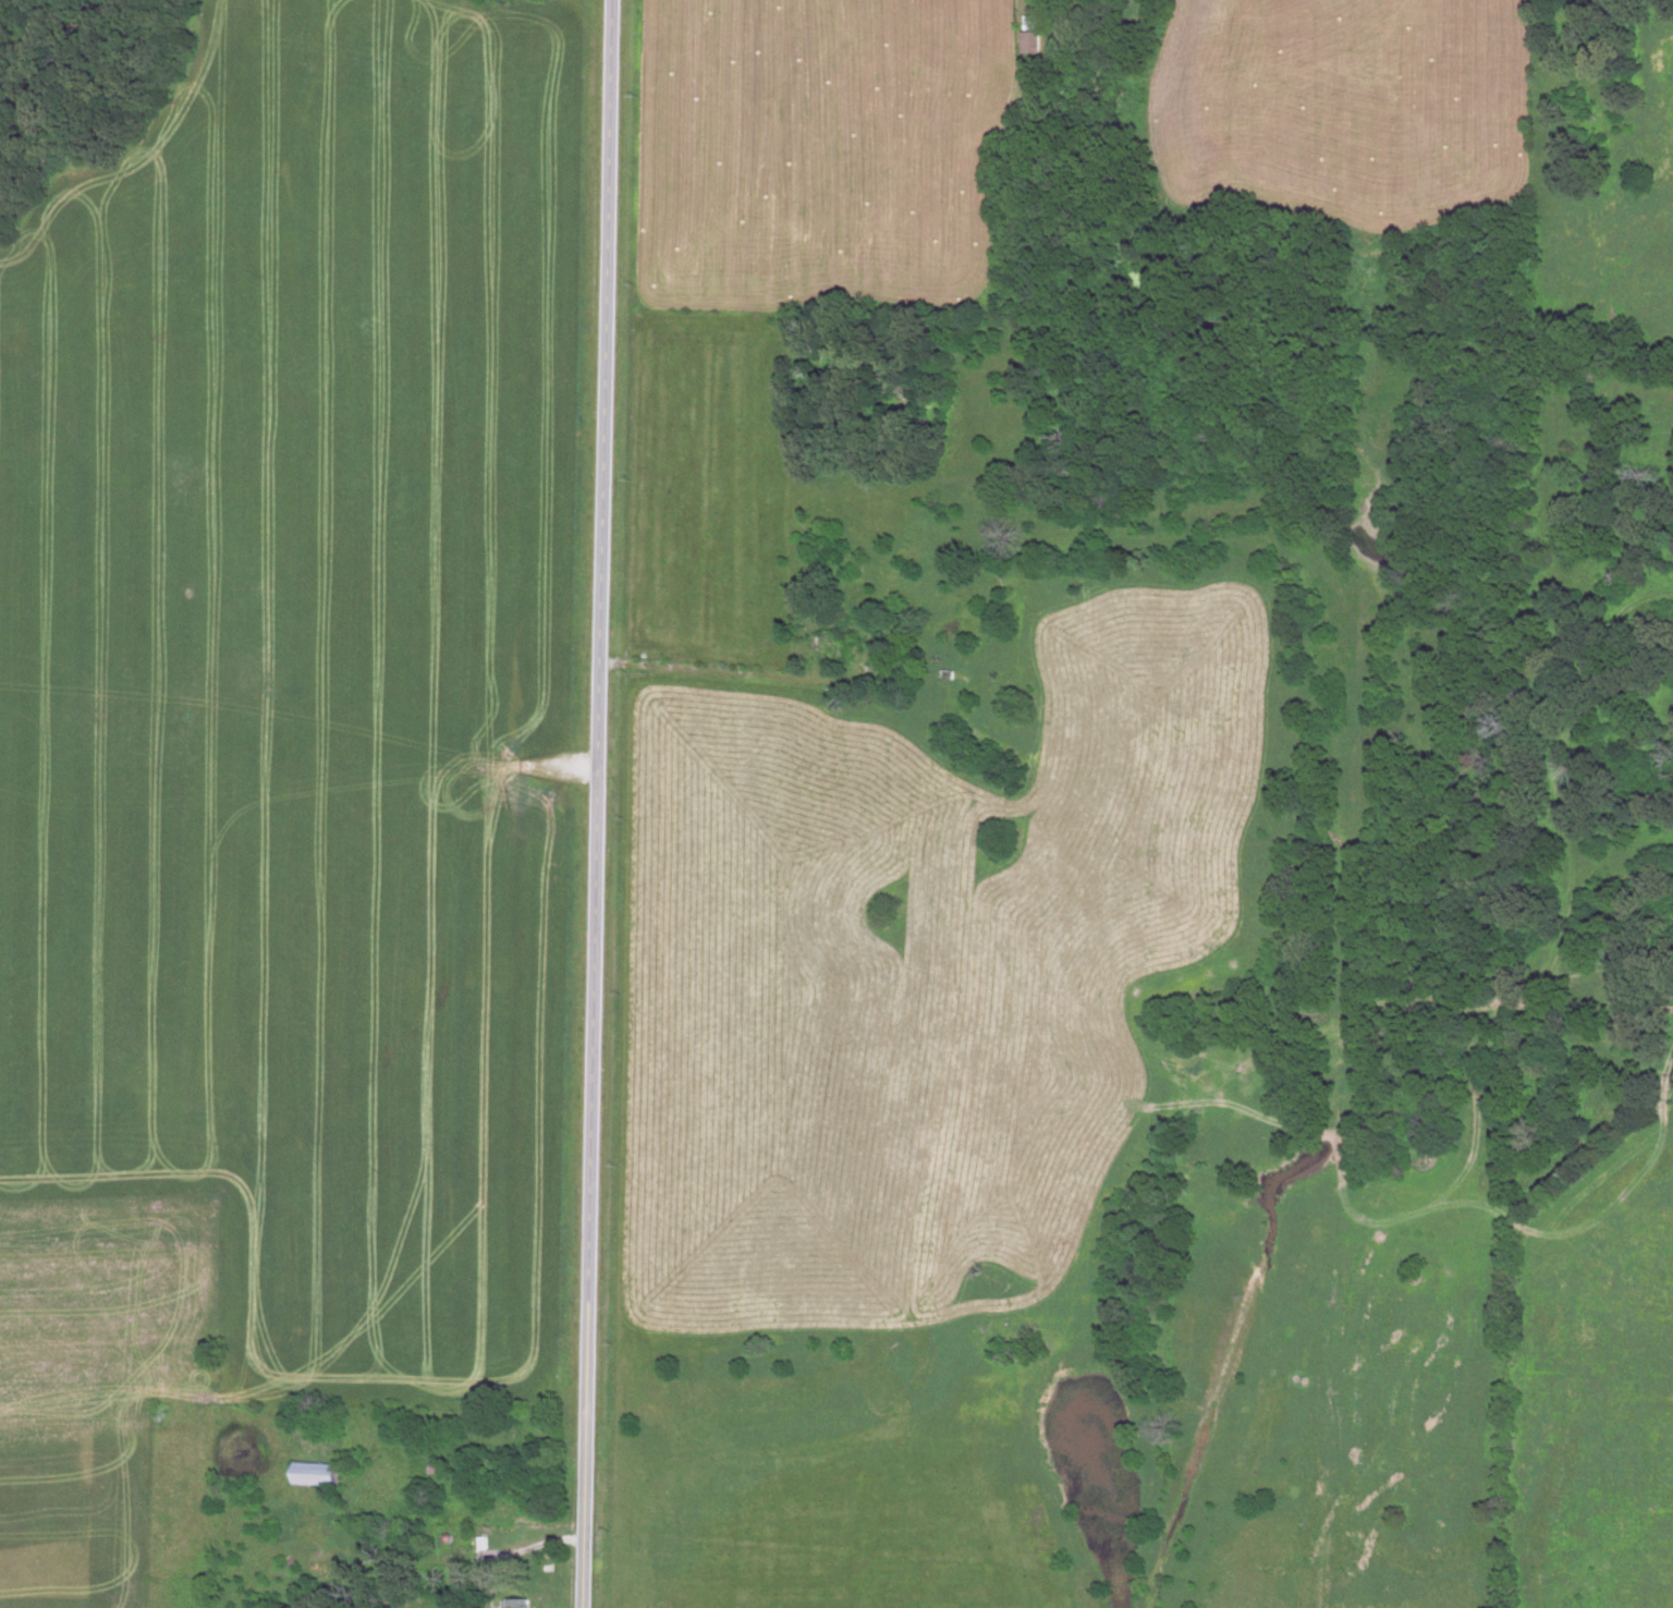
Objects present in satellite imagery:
building: (1027, 35)
road: (596, 804)
building: (435, 1469)
building: (310, 1475)
building: (513, 1604)

